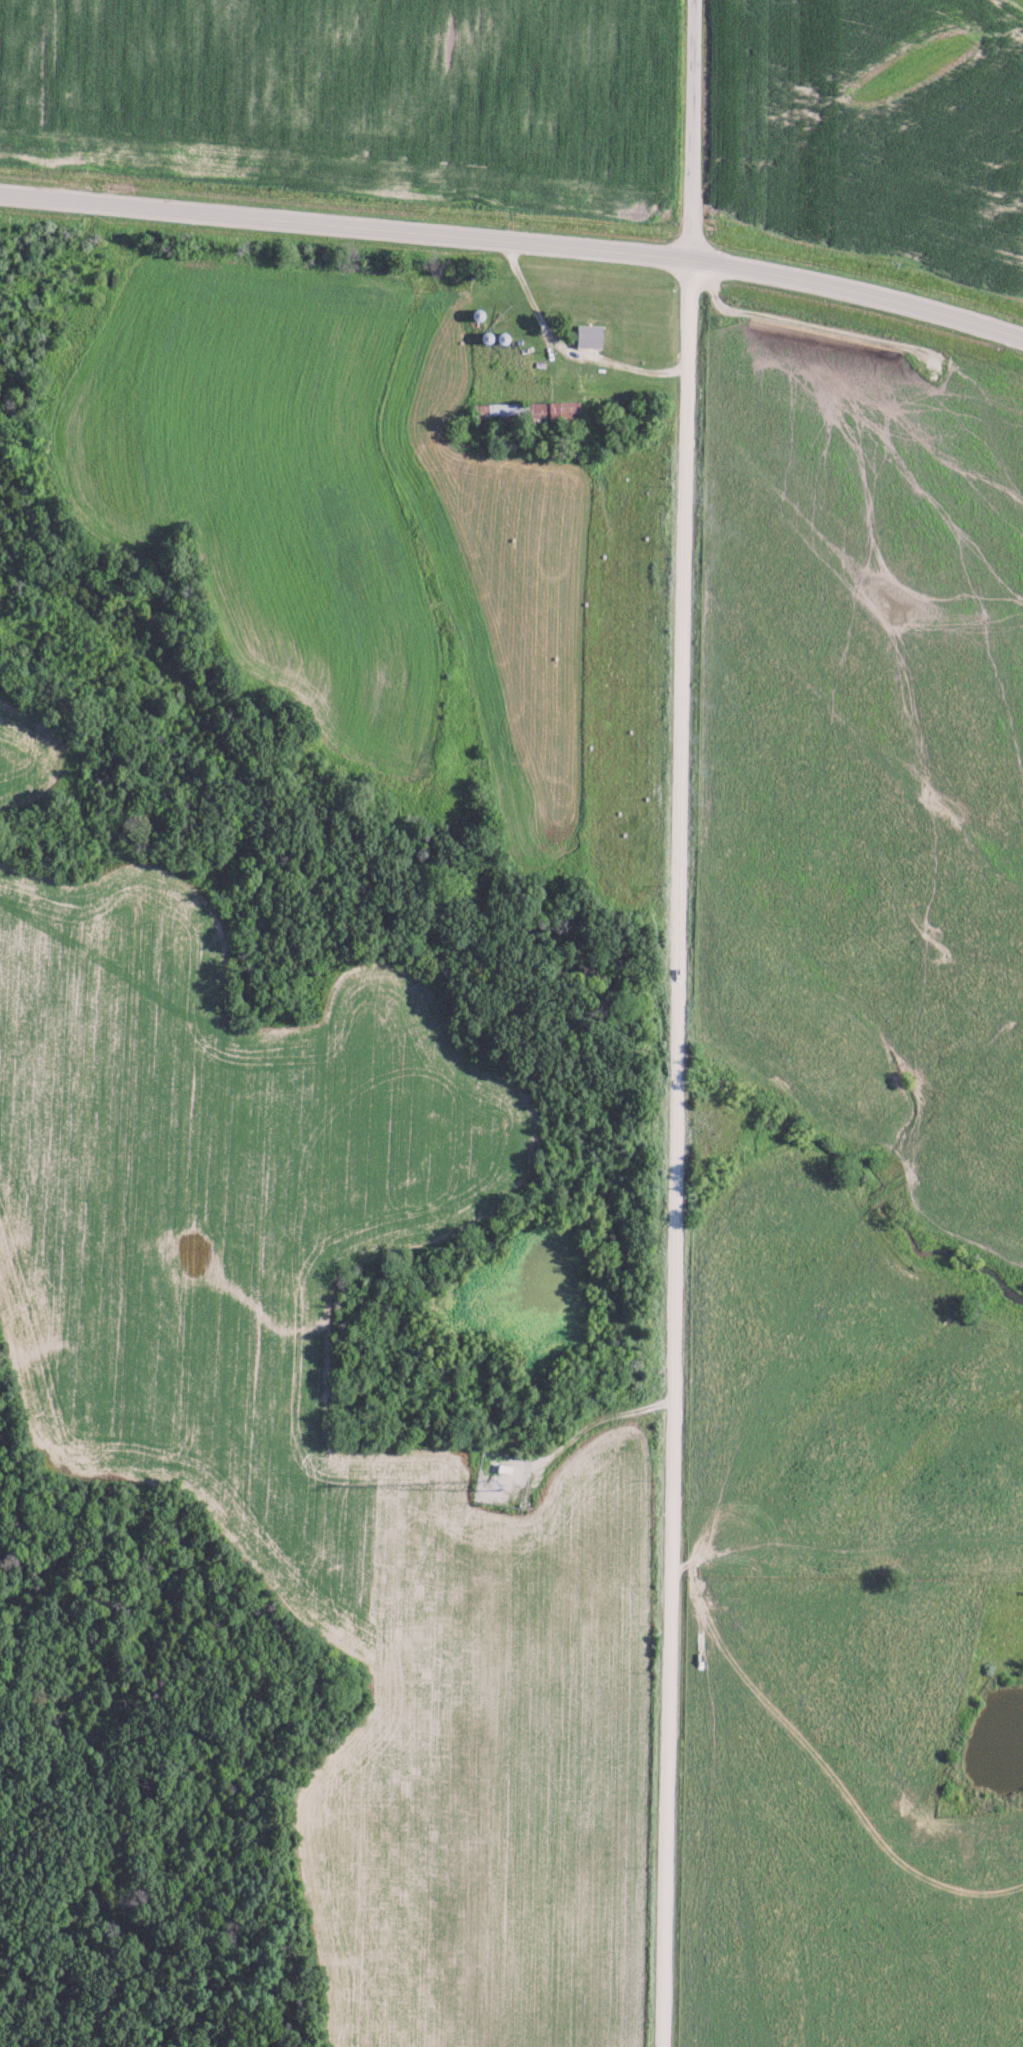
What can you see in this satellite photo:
road: (693, 128)
road: (515, 239)
building: (585, 335)
building: (526, 410)
road: (680, 1152)

